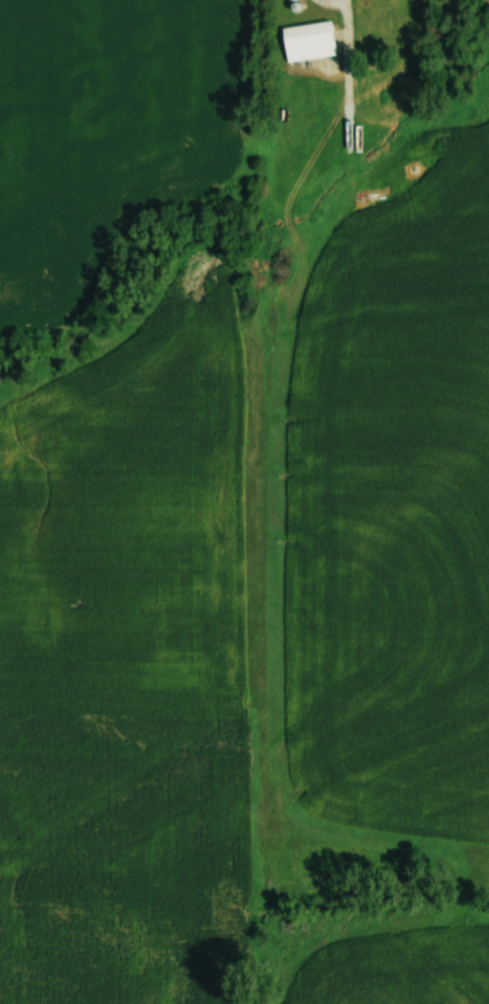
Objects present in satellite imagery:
building: (308, 41)

